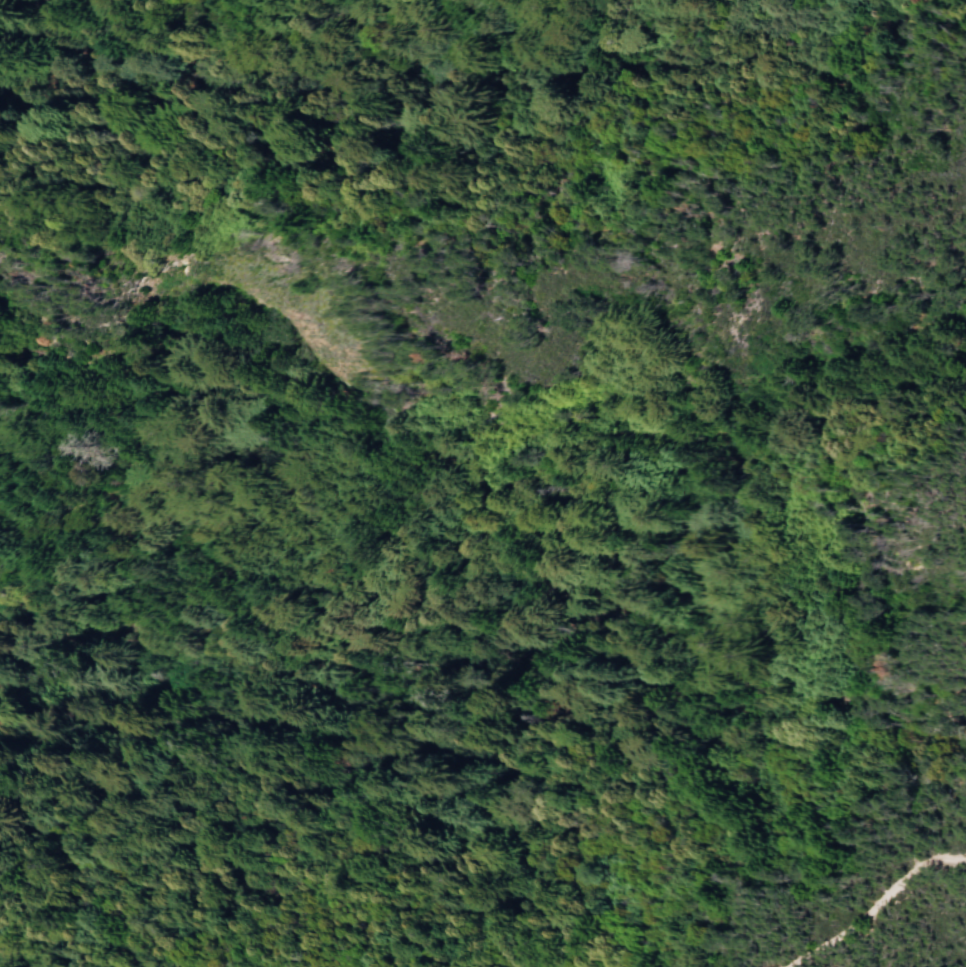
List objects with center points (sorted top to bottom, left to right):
road: (872, 898)
road: (839, 945)

